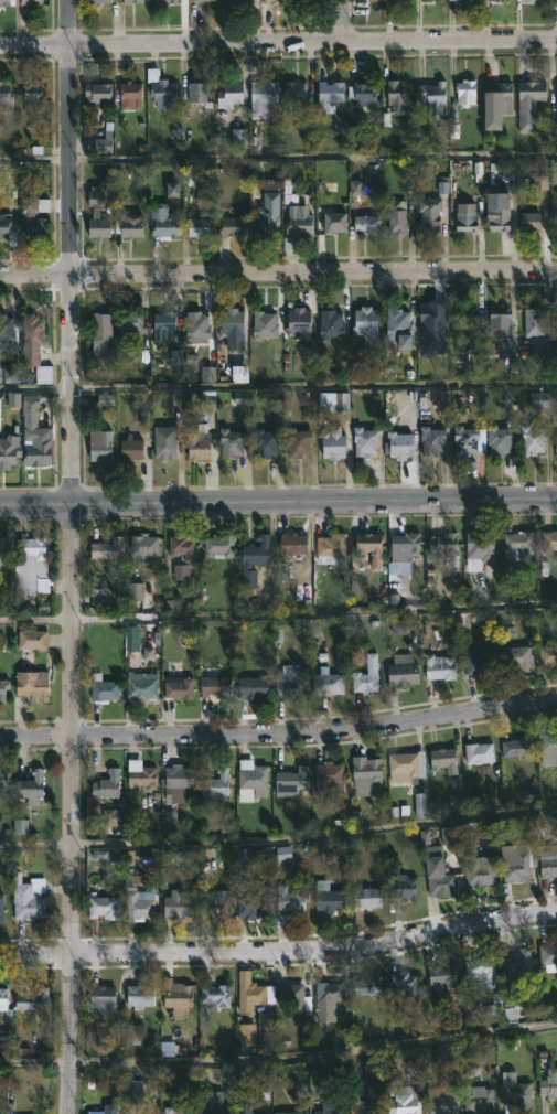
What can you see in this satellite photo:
building: (278, 0)
building: (310, 0)
building: (399, 0)
building: (430, 0)
building: (462, 0)
building: (499, 0)
building: (529, 0)
building: (100, 1)
building: (137, 1)
building: (171, 1)
building: (197, 1)
building: (367, 1)
building: (31, 2)
building: (245, 2)
building: (6, 3)
road: (343, 21)
road: (278, 42)
building: (467, 90)
building: (99, 92)
building: (296, 92)
building: (33, 93)
building: (6, 94)
building: (231, 94)
building: (362, 94)
building: (130, 95)
building: (199, 95)
building: (330, 95)
building: (398, 96)
building: (263, 97)
building: (435, 97)
building: (164, 101)
building: (496, 101)
building: (531, 103)
building: (104, 147)
road: (278, 161)
building: (269, 213)
building: (431, 213)
building: (98, 214)
building: (34, 215)
building: (467, 216)
building: (398, 217)
building: (499, 217)
building: (335, 222)
building: (163, 223)
building: (367, 223)
building: (531, 223)
building: (133, 224)
building: (556, 224)
building: (4, 225)
building: (297, 225)
building: (234, 226)
building: (200, 228)
road: (278, 274)
building: (436, 319)
building: (130, 320)
building: (300, 321)
building: (469, 321)
building: (535, 321)
building: (502, 323)
building: (199, 324)
building: (265, 324)
building: (164, 325)
building: (367, 325)
building: (401, 326)
building: (234, 328)
building: (333, 328)
building: (7, 332)
building: (103, 333)
building: (35, 345)
road: (278, 387)
building: (535, 439)
building: (164, 440)
building: (435, 440)
building: (470, 440)
building: (502, 440)
building: (367, 441)
building: (231, 442)
building: (266, 442)
building: (300, 442)
building: (334, 442)
building: (403, 444)
building: (39, 446)
building: (200, 446)
building: (132, 448)
building: (101, 450)
building: (9, 451)
road: (278, 506)
building: (549, 540)
building: (144, 544)
building: (294, 544)
building: (443, 544)
building: (518, 544)
building: (219, 545)
building: (369, 545)
building: (183, 546)
building: (2, 548)
building: (105, 548)
building: (332, 548)
building: (406, 548)
building: (479, 549)
road: (74, 557)
building: (255, 560)
building: (31, 563)
road: (278, 620)
building: (32, 639)
building: (548, 654)
building: (516, 656)
building: (479, 661)
building: (441, 667)
building: (404, 671)
building: (367, 675)
building: (290, 681)
building: (328, 683)
building: (34, 685)
building: (214, 686)
building: (141, 687)
building: (180, 687)
building: (254, 687)
building: (3, 689)
building: (104, 689)
road: (279, 730)
building: (517, 748)
building: (549, 749)
building: (480, 753)
building: (446, 760)
building: (408, 765)
building: (368, 774)
building: (143, 776)
building: (330, 778)
building: (3, 780)
building: (253, 780)
building: (291, 781)
building: (178, 782)
building: (217, 783)
building: (107, 785)
building: (32, 788)
road: (279, 846)
building: (518, 861)
building: (549, 866)
building: (479, 874)
building: (446, 880)
building: (405, 888)
building: (137, 900)
building: (328, 900)
building: (253, 901)
building: (290, 901)
building: (365, 902)
building: (216, 904)
building: (176, 906)
building: (1, 907)
building: (104, 907)
building: (30, 908)
road: (279, 951)
building: (547, 954)
building: (522, 961)
building: (481, 972)
building: (442, 978)
building: (405, 984)
building: (369, 987)
building: (330, 992)
building: (251, 993)
building: (291, 995)
building: (178, 996)
building: (217, 996)
building: (140, 997)
building: (33, 999)
building: (104, 999)
building: (478, 1007)
building: (4, 1008)
road: (279, 1064)
building: (549, 1082)
building: (515, 1090)
building: (133, 1093)
building: (406, 1100)
building: (480, 1100)
building: (442, 1102)
building: (363, 1103)
building: (246, 1105)
building: (215, 1108)
building: (107, 1110)
building: (176, 1110)
building: (148, 1112)
building: (330, 1112)
building: (291, 1113)

